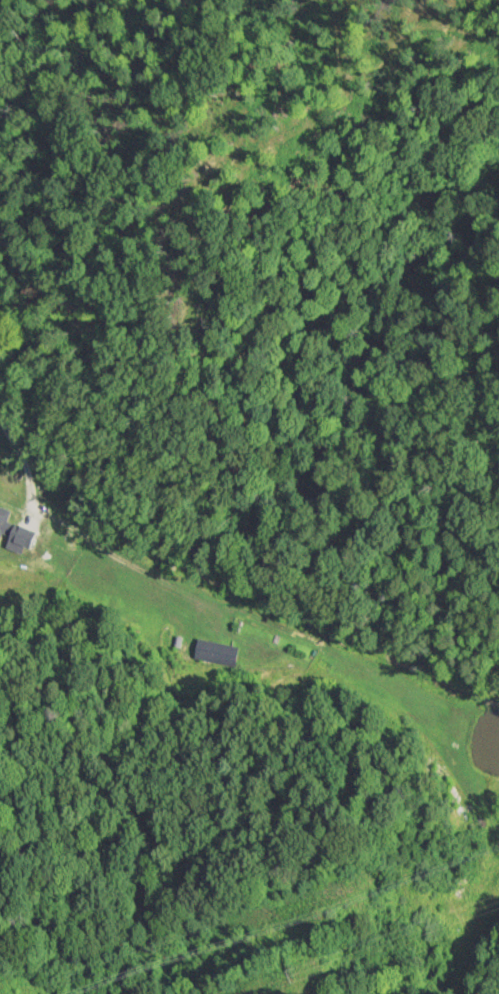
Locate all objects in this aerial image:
building: (9, 537)
power tower: (287, 970)

